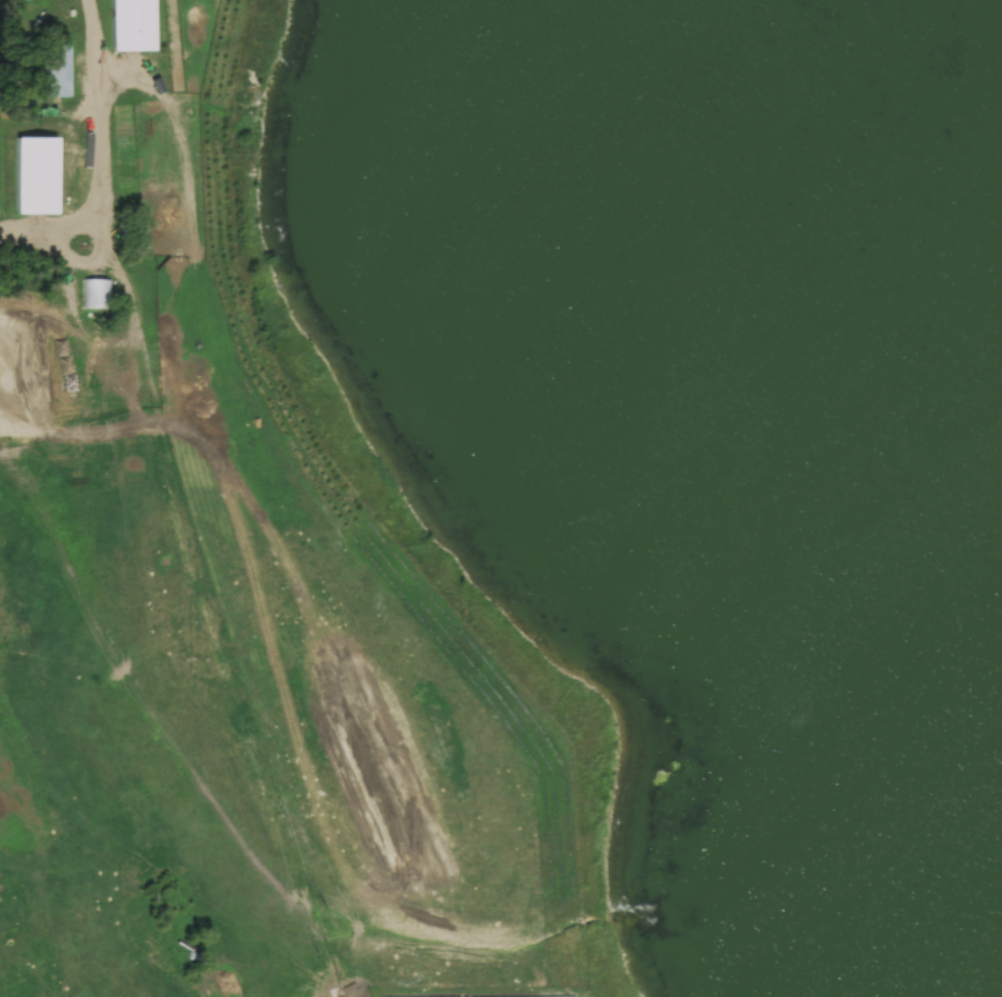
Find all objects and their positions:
building: (131, 24)
building: (55, 68)
building: (31, 174)
building: (97, 292)

